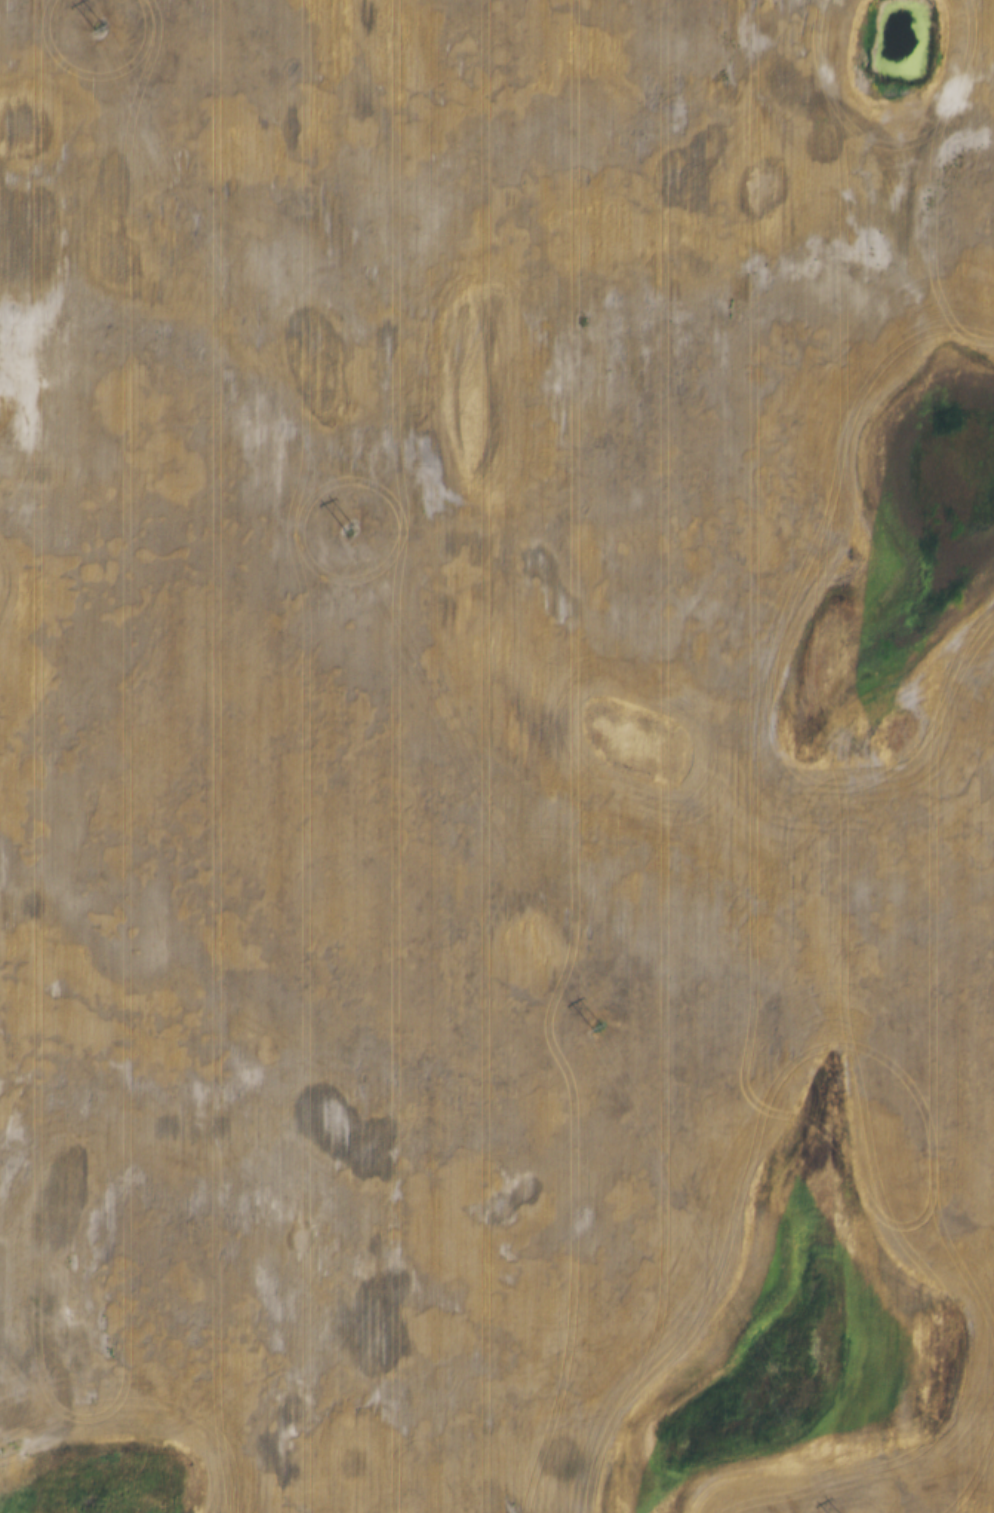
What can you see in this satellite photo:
power tower: (94, 25)
power tower: (344, 525)
power tower: (591, 1024)

